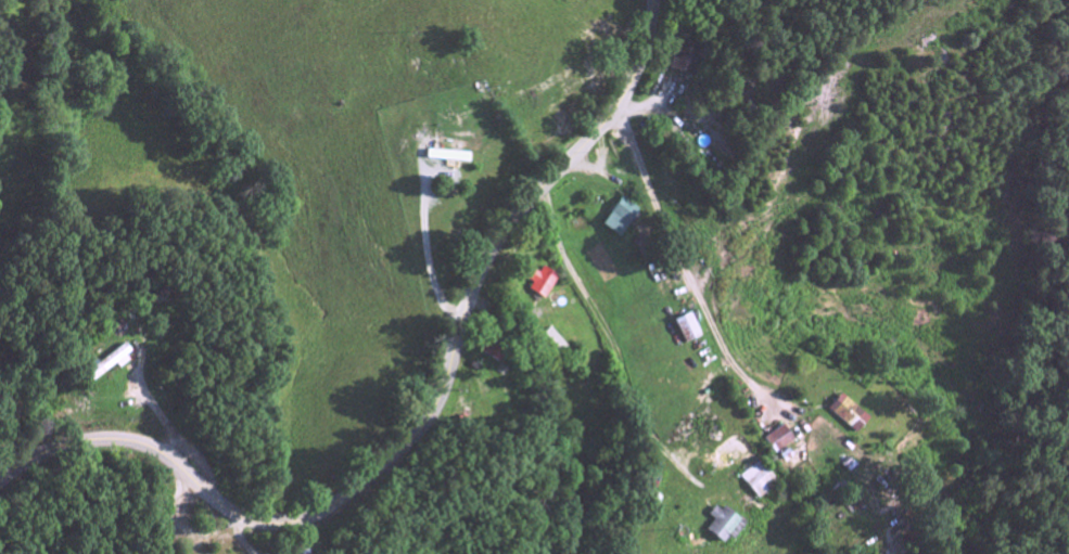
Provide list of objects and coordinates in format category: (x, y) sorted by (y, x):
building: (685, 61)
road: (648, 105)
building: (447, 158)
building: (621, 219)
road: (680, 268)
building: (544, 285)
road: (608, 323)
building: (686, 331)
building: (110, 363)
building: (845, 415)
road: (423, 425)
building: (778, 442)
road: (169, 513)
building: (722, 527)

